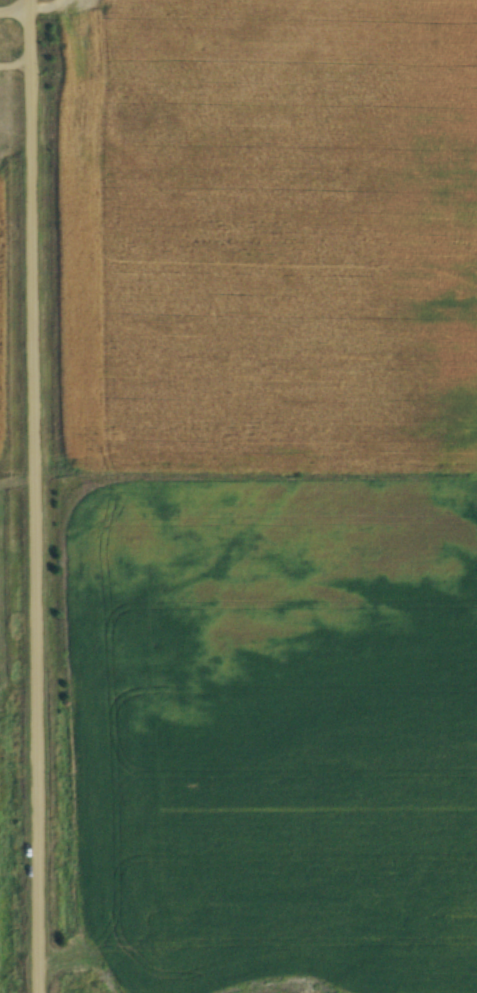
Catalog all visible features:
road: (41, 9)
road: (7, 10)
road: (16, 496)

